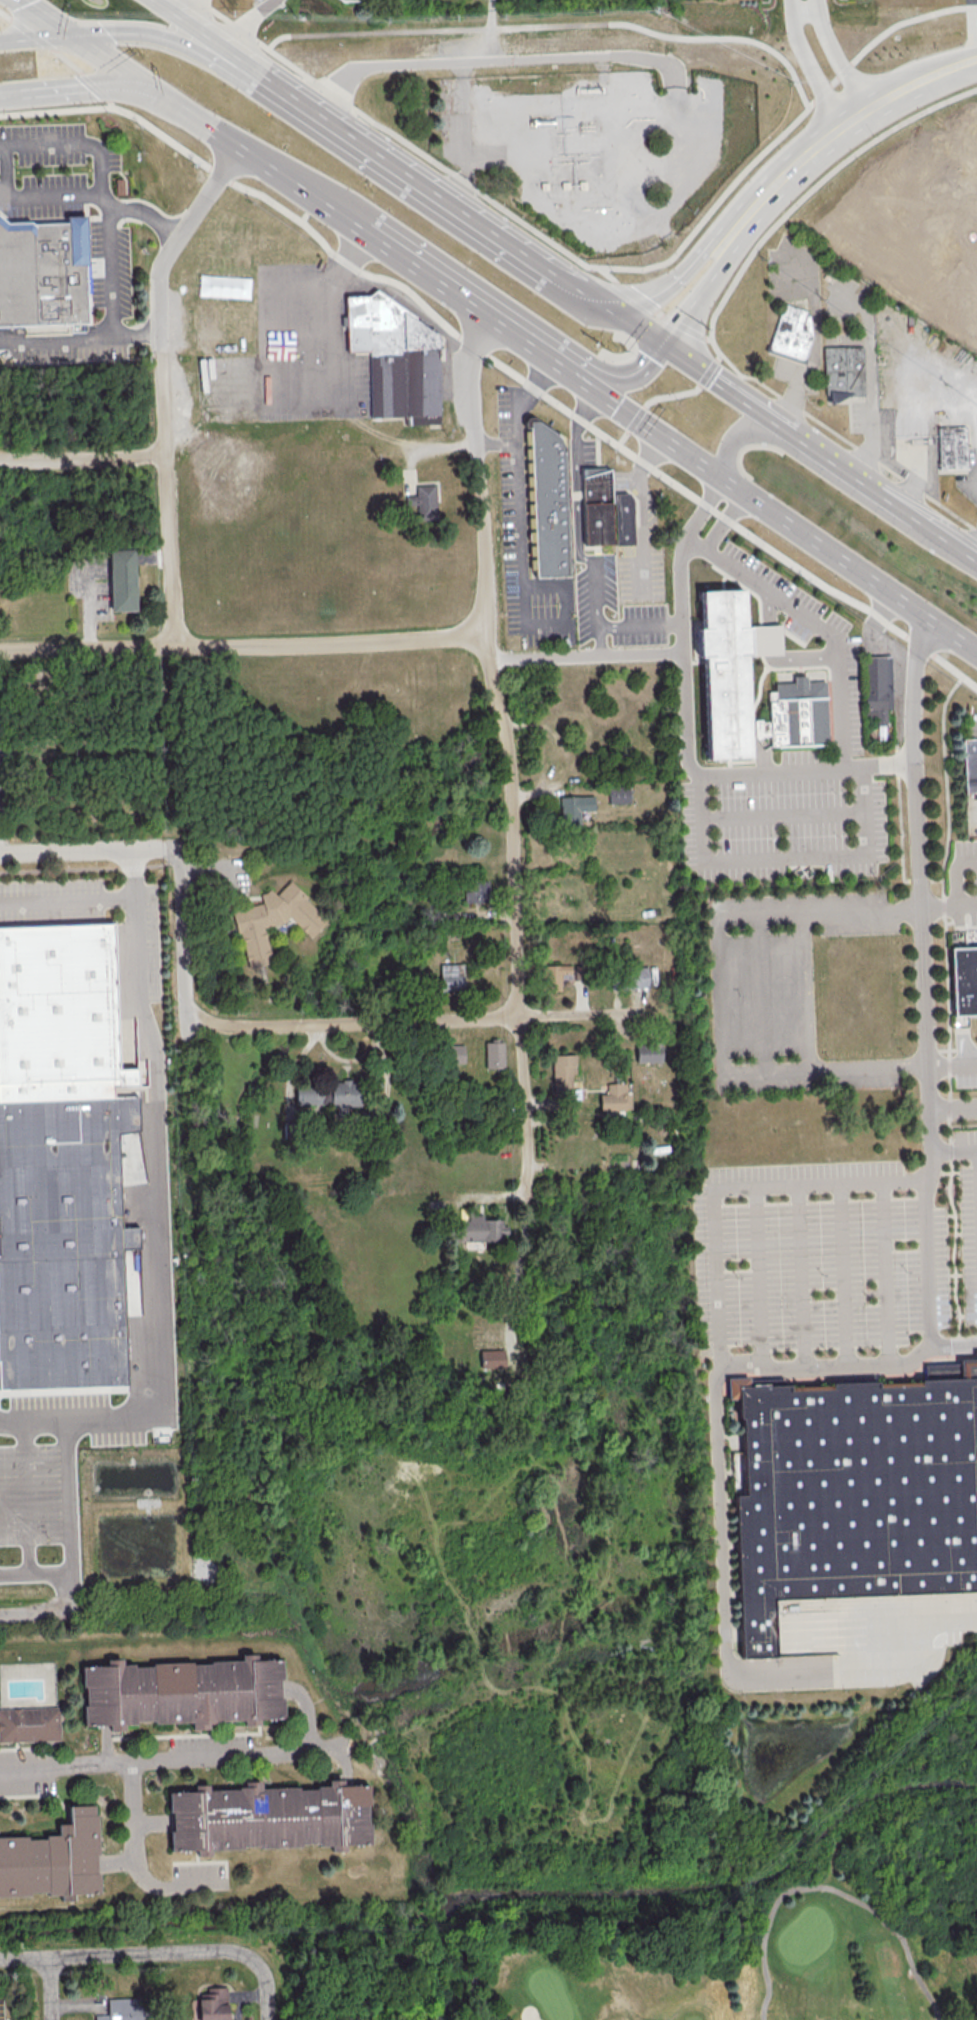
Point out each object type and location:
road: (160, 1)
road: (190, 9)
road: (812, 13)
road: (6, 15)
road: (240, 26)
road: (201, 31)
road: (69, 32)
road: (654, 32)
road: (491, 33)
road: (34, 34)
road: (37, 37)
traffic signals: (75, 37)
road: (184, 46)
road: (843, 60)
road: (70, 61)
road: (503, 65)
road: (816, 68)
road: (469, 74)
road: (266, 76)
traffic signals: (140, 84)
road: (101, 88)
road: (70, 90)
road: (333, 121)
road: (862, 123)
road: (472, 128)
road: (73, 142)
road: (232, 143)
road: (8, 168)
parking lot: (54, 170)
road: (407, 173)
road: (815, 185)
road: (467, 191)
road: (50, 196)
road: (141, 210)
road: (514, 215)
road: (496, 234)
road: (697, 268)
building: (44, 271)
road: (610, 275)
road: (718, 279)
road: (458, 296)
road: (613, 312)
road: (660, 312)
traffic signals: (621, 317)
road: (112, 326)
road: (135, 333)
building: (793, 337)
road: (334, 344)
road: (819, 345)
traffic signals: (668, 349)
building: (396, 359)
road: (498, 361)
building: (845, 374)
road: (624, 383)
road: (162, 386)
road: (695, 387)
road: (872, 387)
road: (604, 388)
road: (729, 389)
road: (650, 401)
road: (520, 419)
road: (629, 425)
road: (742, 433)
road: (837, 435)
building: (954, 447)
road: (82, 460)
road: (865, 483)
building: (423, 500)
building: (547, 503)
road: (704, 509)
road: (773, 509)
building: (606, 510)
road: (640, 512)
road: (581, 513)
road: (724, 518)
road: (959, 546)
building: (125, 581)
road: (527, 596)
road: (90, 608)
road: (772, 610)
road: (820, 625)
road: (632, 627)
building: (766, 638)
road: (773, 638)
road: (242, 646)
road: (586, 654)
road: (804, 659)
road: (686, 660)
building: (727, 672)
building: (880, 689)
building: (798, 715)
road: (506, 755)
road: (886, 764)
building: (971, 764)
building: (618, 793)
building: (573, 808)
road: (780, 816)
road: (89, 849)
road: (700, 865)
road: (133, 872)
road: (955, 873)
parking lot: (964, 876)
road: (918, 879)
building: (475, 890)
road: (123, 897)
road: (966, 904)
road: (937, 905)
building: (273, 920)
road: (184, 949)
parking lot: (144, 962)
building: (554, 975)
building: (450, 976)
building: (637, 977)
building: (964, 979)
road: (806, 991)
road: (761, 993)
road: (720, 1009)
road: (946, 1013)
building: (60, 1015)
road: (425, 1020)
building: (648, 1052)
building: (455, 1053)
building: (494, 1054)
road: (967, 1064)
parking lot: (964, 1071)
building: (562, 1073)
building: (344, 1094)
building: (310, 1095)
building: (615, 1097)
road: (953, 1107)
road: (962, 1125)
road: (937, 1147)
road: (960, 1150)
road: (494, 1198)
road: (158, 1211)
building: (480, 1227)
building: (63, 1244)
parking lot: (836, 1256)
road: (927, 1266)
road: (884, 1276)
road: (843, 1278)
road: (758, 1279)
road: (800, 1280)
building: (492, 1358)
road: (850, 1370)
road: (82, 1419)
road: (718, 1432)
parking lot: (48, 1486)
building: (856, 1495)
road: (27, 1498)
road: (69, 1532)
road: (71, 1593)
road: (35, 1613)
building: (790, 1628)
building: (184, 1695)
road: (185, 1697)
road: (311, 1711)
building: (33, 1725)
parking lot: (216, 1746)
road: (116, 1747)
parking lot: (29, 1758)
road: (177, 1761)
road: (344, 1766)
parking lot: (28, 1780)
road: (138, 1811)
road: (275, 1817)
road: (153, 1819)
building: (269, 1820)
road: (117, 1862)
building: (49, 1863)
road: (47, 1867)
parking lot: (201, 1872)
road: (178, 1884)
road: (829, 1890)
park: (783, 1911)
river: (279, 1919)
road: (125, 1956)
park: (357, 1973)
road: (266, 1987)
road: (50, 1989)
building: (212, 2004)
building: (121, 2009)

